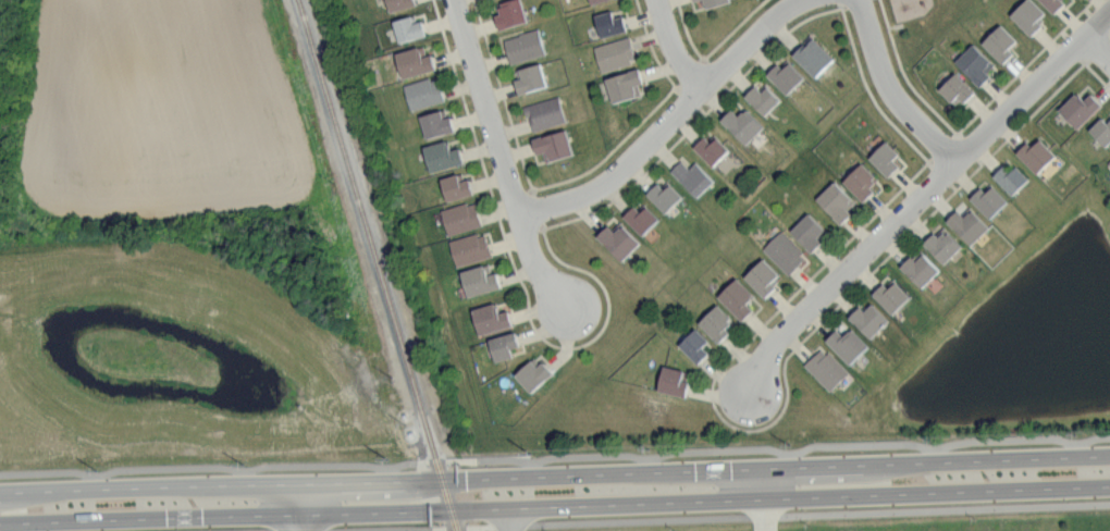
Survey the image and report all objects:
building: (592, 0)
building: (696, 0)
building: (596, 1)
building: (715, 2)
building: (402, 3)
building: (1054, 4)
building: (513, 13)
building: (1031, 15)
road: (887, 20)
building: (612, 24)
park: (916, 26)
building: (410, 28)
road: (651, 42)
building: (1001, 42)
building: (526, 46)
road: (673, 47)
road: (1096, 49)
road: (713, 50)
building: (616, 53)
building: (814, 55)
building: (416, 61)
building: (976, 64)
road: (1024, 66)
road: (1096, 73)
building: (787, 76)
building: (532, 77)
building: (626, 85)
road: (914, 89)
building: (958, 89)
road: (869, 90)
road: (889, 91)
building: (424, 92)
road: (503, 96)
building: (764, 99)
building: (1081, 109)
building: (546, 112)
road: (666, 122)
road: (696, 122)
building: (437, 123)
building: (743, 124)
road: (1017, 128)
building: (1102, 132)
building: (555, 145)
building: (713, 149)
road: (612, 150)
building: (1037, 155)
building: (443, 156)
road: (499, 158)
building: (887, 158)
building: (1109, 162)
building: (693, 176)
building: (1012, 178)
building: (862, 182)
building: (457, 186)
road: (922, 194)
building: (666, 196)
building: (990, 200)
building: (838, 201)
building: (461, 218)
building: (642, 218)
building: (970, 224)
building: (811, 232)
building: (620, 239)
building: (945, 244)
building: (471, 248)
building: (786, 251)
railway: (381, 265)
road: (516, 267)
building: (922, 268)
building: (764, 277)
building: (481, 280)
building: (893, 296)
building: (739, 298)
road: (855, 302)
road: (860, 302)
building: (492, 318)
building: (871, 320)
building: (717, 322)
park: (188, 342)
building: (505, 345)
building: (696, 345)
building: (849, 345)
building: (827, 368)
building: (535, 373)
building: (675, 381)
road: (727, 421)
road: (554, 455)
road: (555, 469)
road: (299, 505)
road: (555, 505)
road: (704, 517)

